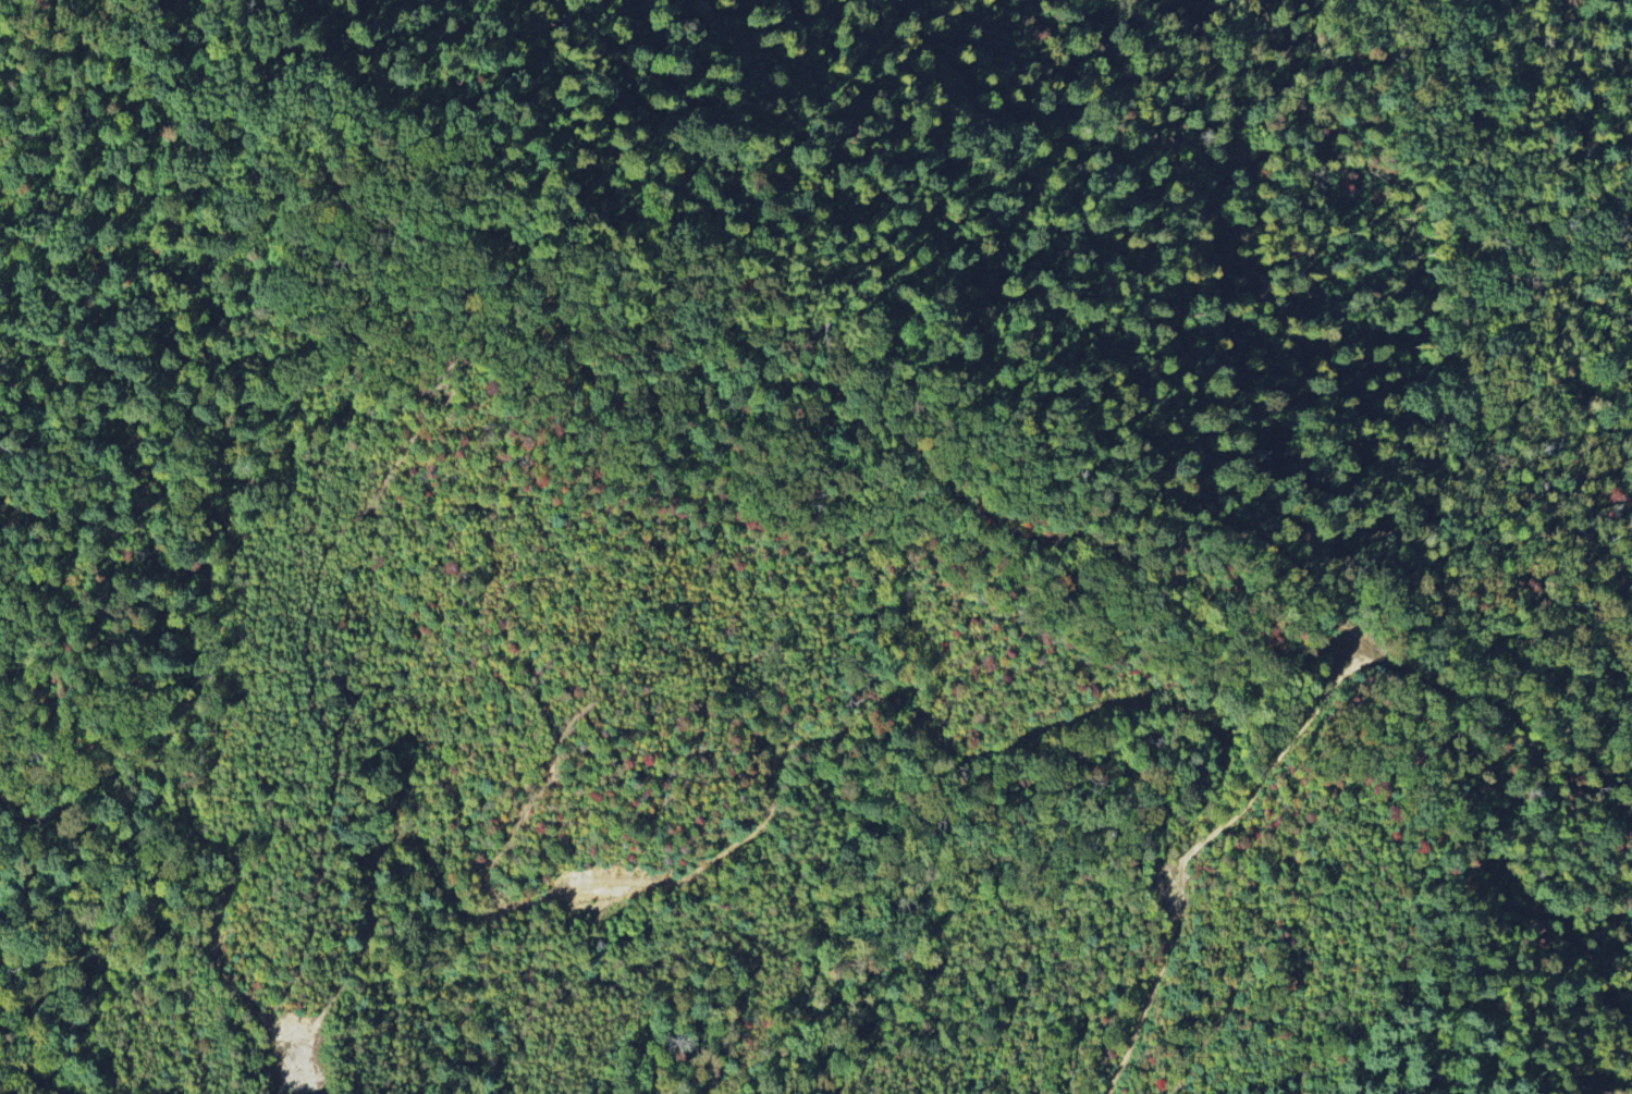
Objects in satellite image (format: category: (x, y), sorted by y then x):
road: (1361, 669)
road: (743, 836)
road: (1316, 956)
road: (1269, 972)

